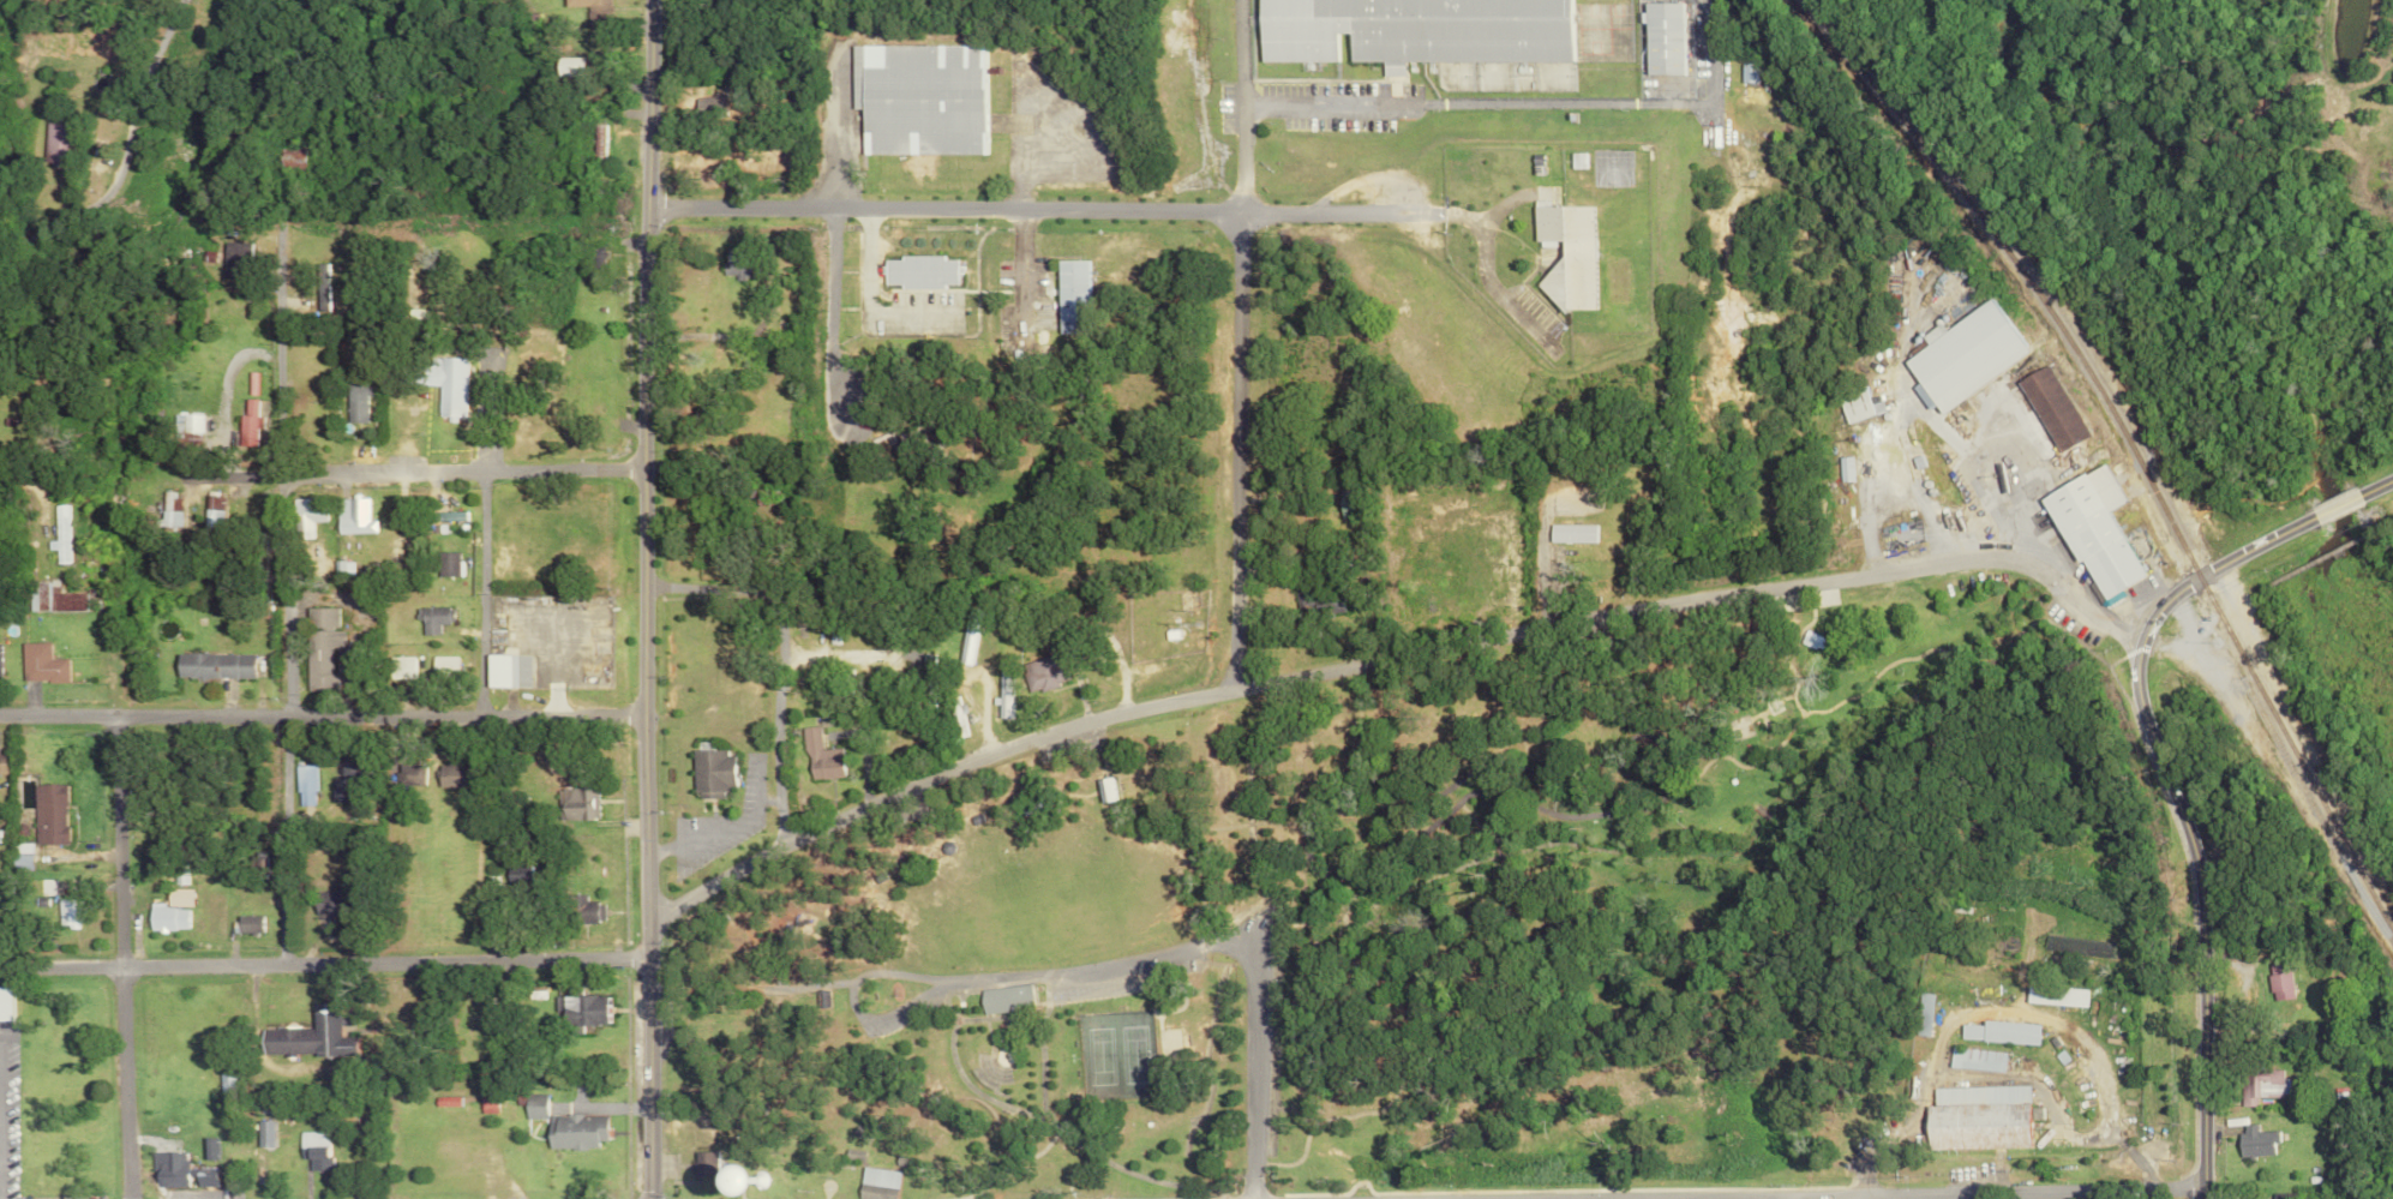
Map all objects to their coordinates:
building: (588, 11)
building: (1413, 30)
building: (1659, 37)
road: (1235, 50)
building: (565, 66)
building: (1745, 72)
building: (917, 98)
road: (1525, 102)
road: (827, 139)
building: (56, 145)
road: (1021, 155)
road: (1235, 157)
building: (1576, 160)
road: (146, 186)
road: (1027, 210)
building: (1563, 256)
building: (232, 259)
building: (733, 262)
building: (917, 271)
building: (317, 288)
building: (1069, 296)
road: (827, 310)
road: (754, 322)
building: (1961, 356)
building: (436, 382)
building: (350, 401)
building: (1854, 406)
building: (2050, 408)
building: (245, 422)
building: (184, 431)
road: (1229, 449)
railway: (2127, 450)
road: (455, 468)
building: (1841, 469)
road: (31, 481)
road: (2379, 485)
building: (1344, 503)
road: (2341, 504)
building: (168, 510)
building: (209, 511)
building: (300, 516)
building: (352, 516)
building: (445, 516)
building: (1571, 533)
building: (2093, 533)
building: (60, 534)
road: (2329, 548)
building: (443, 564)
road: (2213, 566)
road: (775, 578)
road: (475, 590)
road: (277, 594)
building: (52, 598)
road: (637, 599)
building: (428, 619)
building: (965, 636)
building: (1811, 641)
building: (314, 647)
road: (1383, 658)
building: (41, 664)
park: (2338, 664)
building: (209, 666)
building: (396, 667)
building: (440, 667)
building: (504, 671)
building: (1040, 673)
building: (1002, 694)
road: (978, 695)
road: (1833, 701)
road: (318, 715)
building: (954, 719)
road: (782, 727)
road: (2339, 747)
building: (818, 757)
building: (2, 763)
building: (348, 769)
building: (406, 774)
building: (709, 774)
building: (446, 775)
road: (1569, 777)
building: (300, 786)
building: (1103, 790)
railway: (2307, 803)
building: (575, 804)
building: (48, 814)
road: (2379, 823)
road: (1379, 868)
building: (325, 901)
building: (581, 910)
building: (66, 913)
building: (166, 918)
road: (2193, 918)
building: (246, 924)
park: (1413, 931)
road: (1213, 939)
road: (118, 957)
road: (319, 960)
building: (2277, 979)
building: (2053, 995)
building: (998, 997)
road: (1034, 1000)
road: (934, 1001)
building: (2, 1005)
road: (828, 1006)
building: (571, 1009)
building: (1924, 1013)
road: (950, 1017)
building: (1999, 1032)
building: (305, 1035)
park: (1128, 1051)
park: (1090, 1054)
building: (1978, 1059)
building: (2261, 1084)
building: (529, 1105)
building: (1978, 1117)
building: (569, 1131)
building: (259, 1132)
building: (2257, 1141)
building: (310, 1149)
road: (1006, 1156)
building: (710, 1169)
building: (175, 1170)
road: (709, 1171)
road: (1129, 1171)
water tower: (750, 1177)
building: (874, 1182)
road: (1985, 1193)
road: (929, 1194)
road: (766, 1195)

